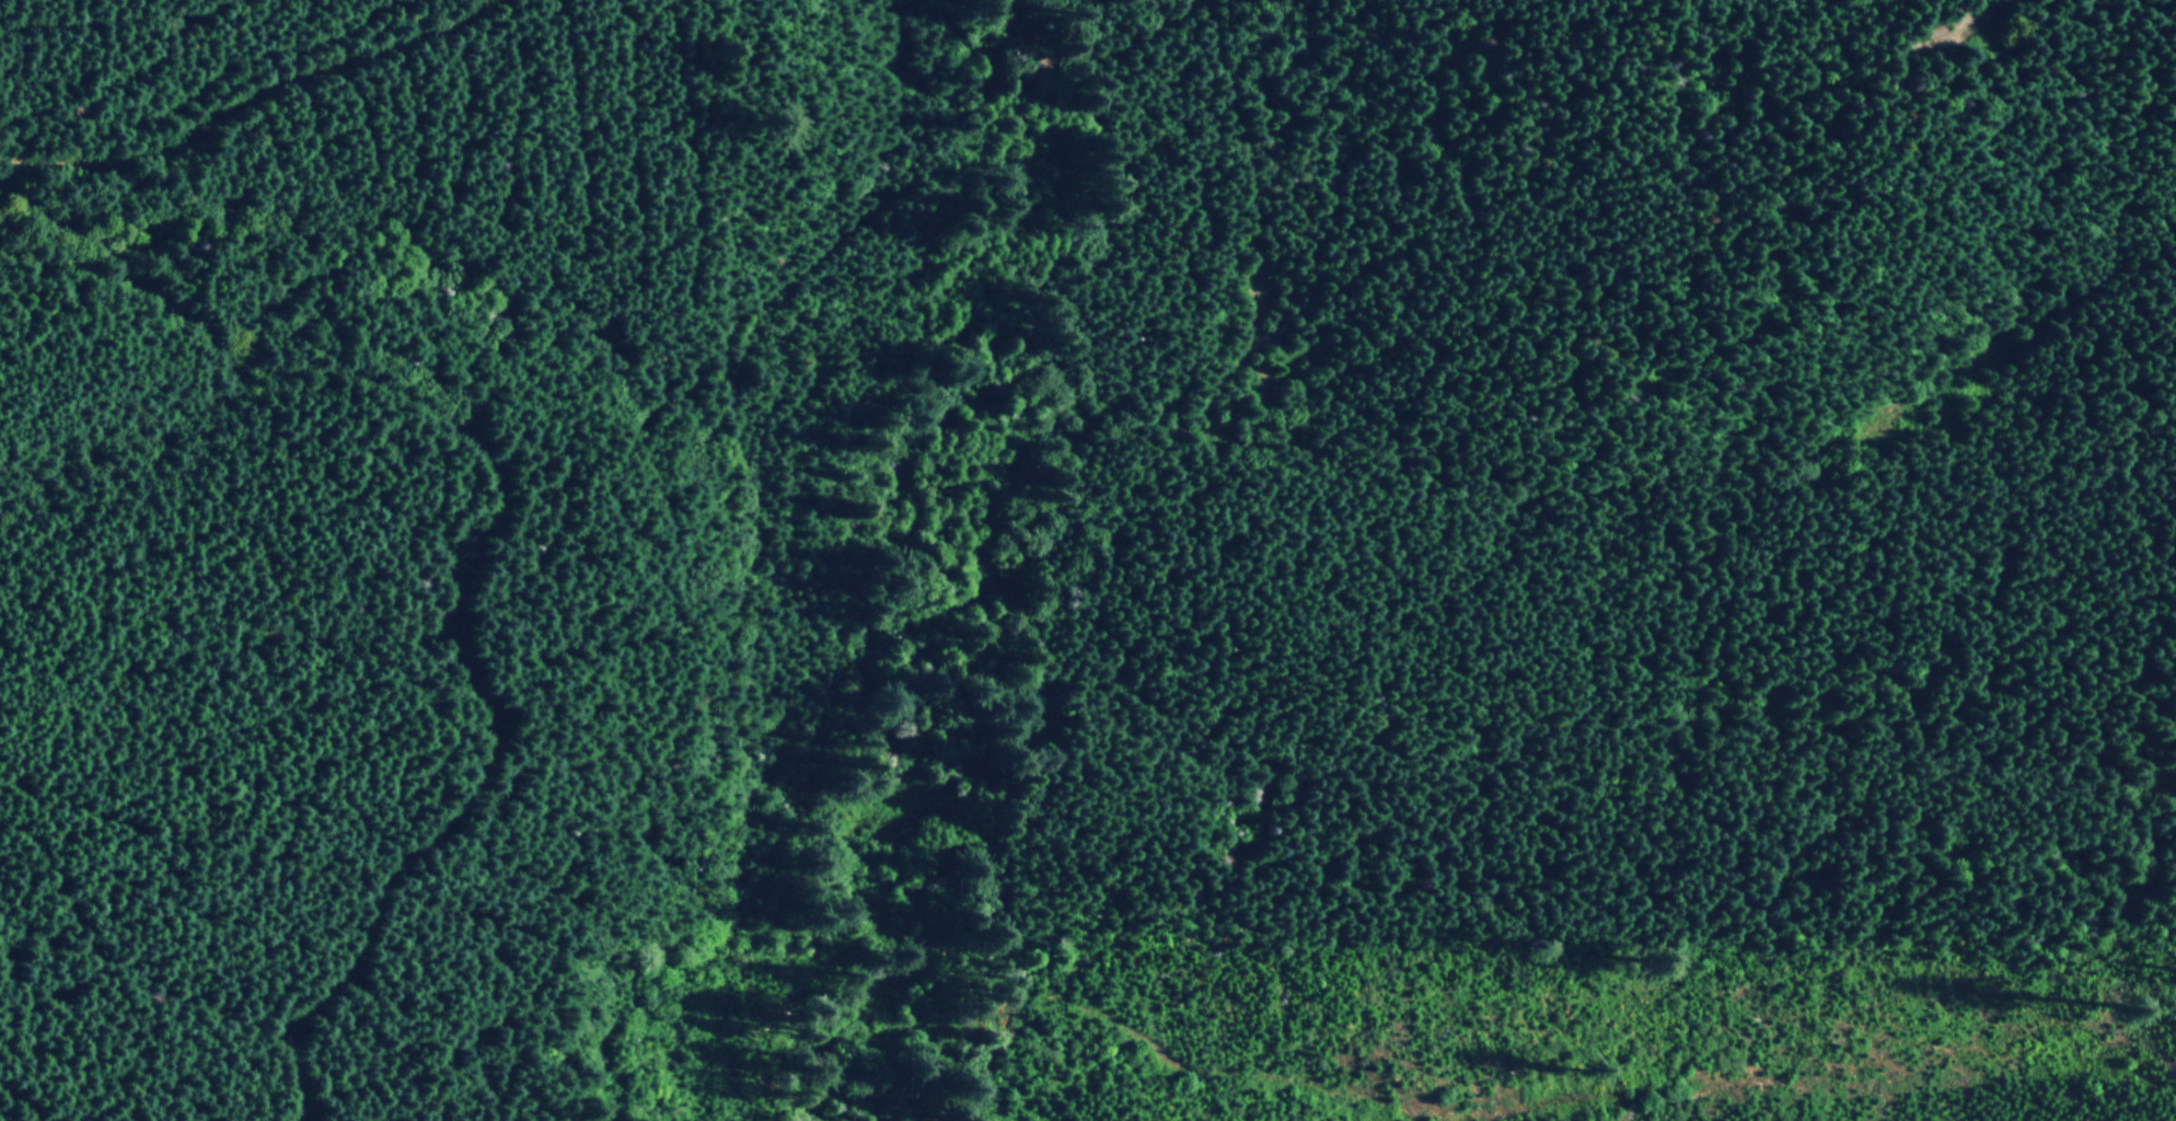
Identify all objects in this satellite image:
road: (251, 99)
road: (27, 158)
road: (483, 557)
road: (1176, 558)

